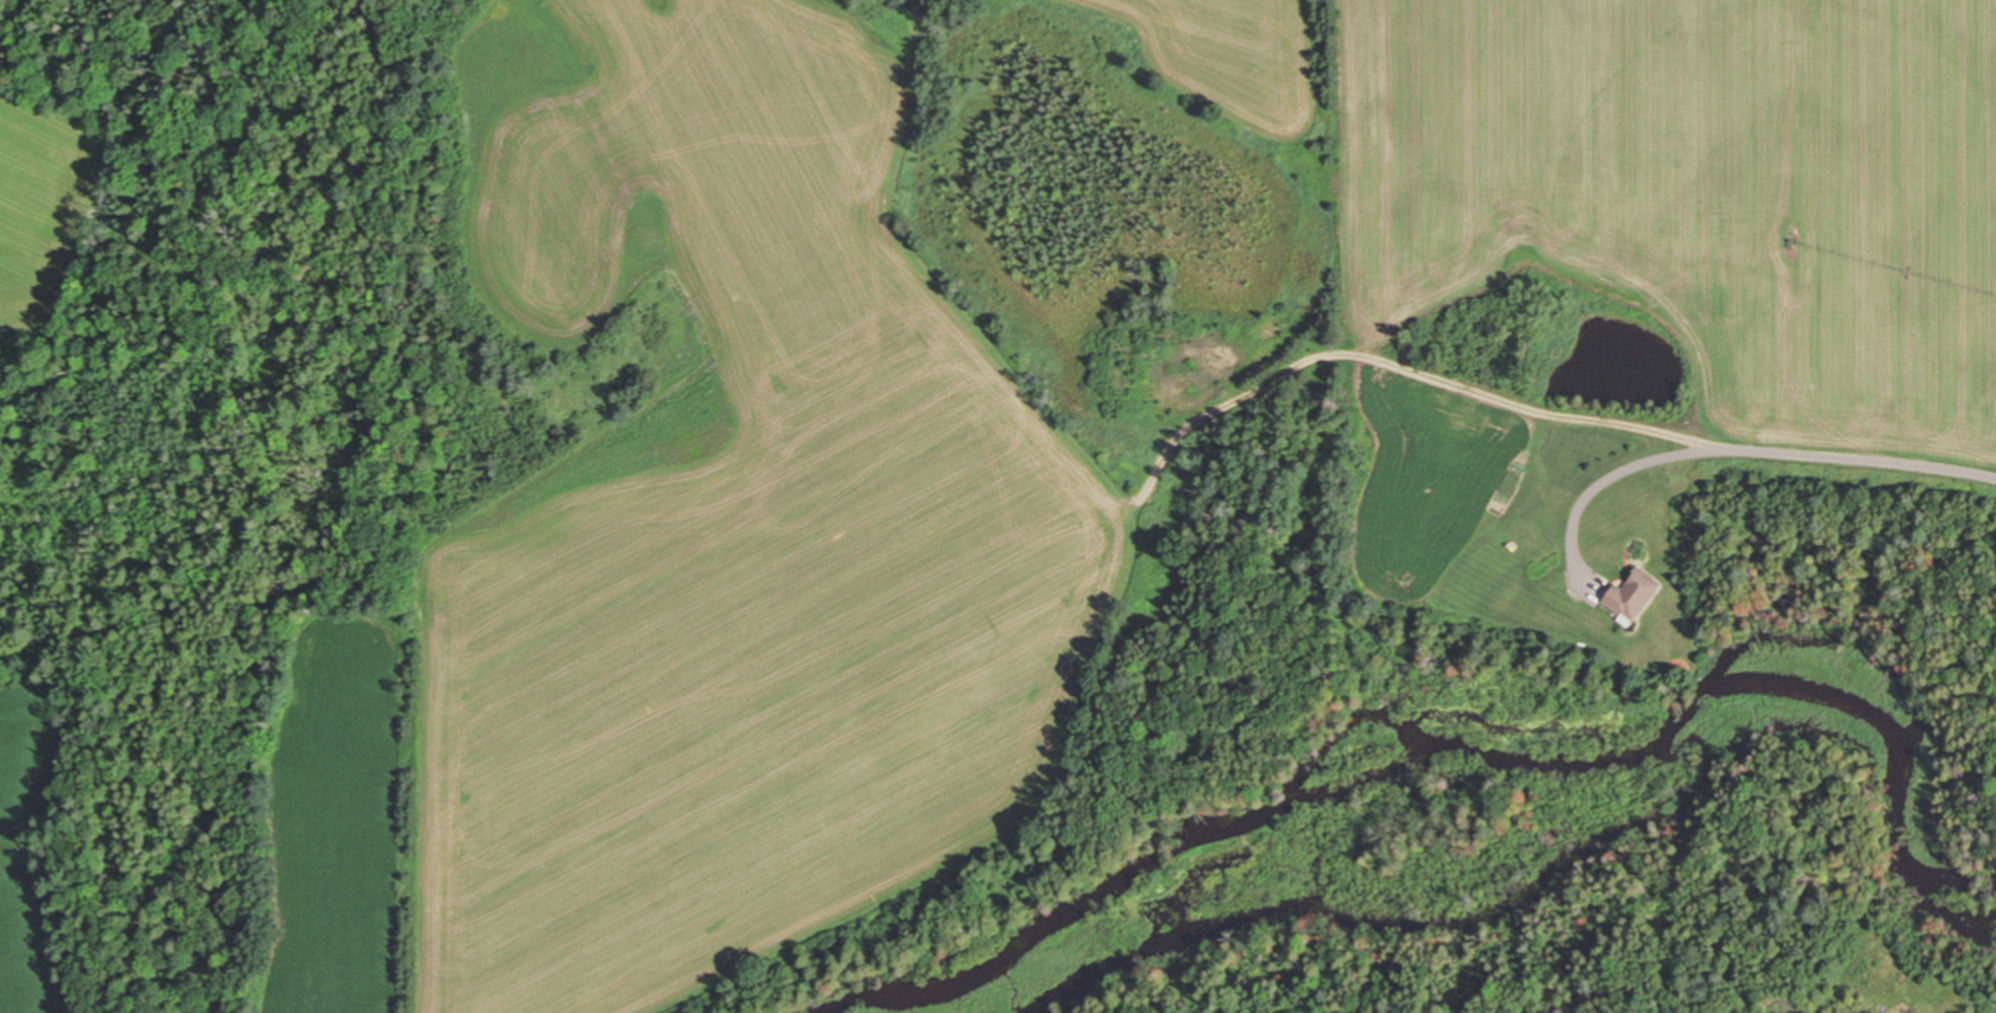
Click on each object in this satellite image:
road: (1739, 449)
building: (1629, 594)
river: (1470, 757)

